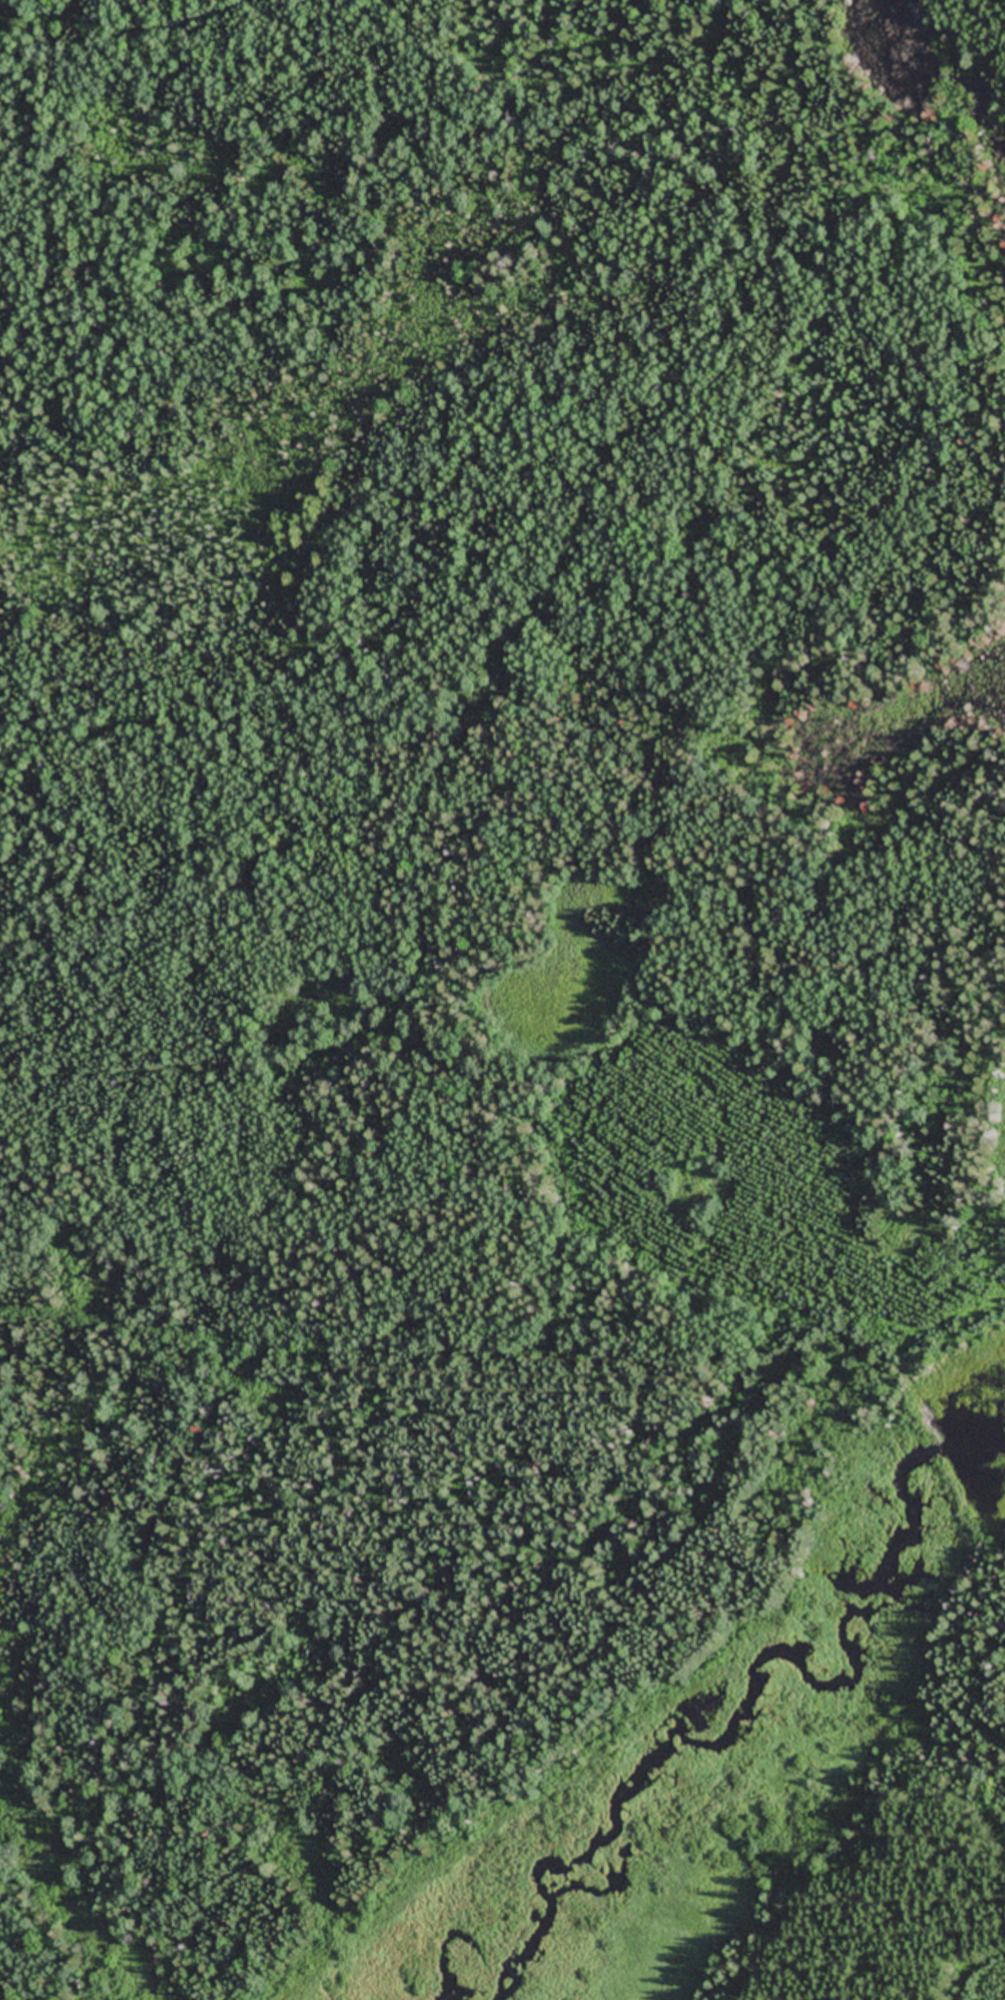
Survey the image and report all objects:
road: (139, 34)
road: (364, 1022)
road: (503, 1324)

